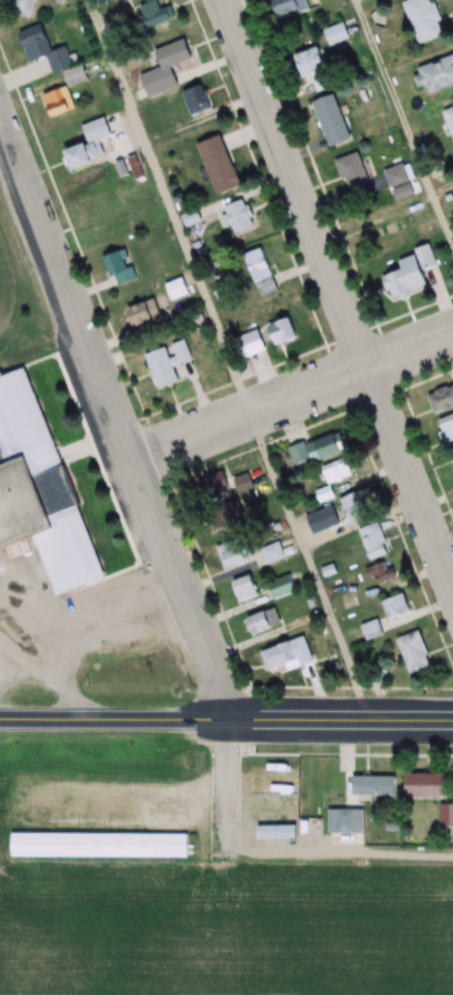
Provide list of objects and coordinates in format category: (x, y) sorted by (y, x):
building: (23, 6)
building: (291, 7)
building: (155, 14)
building: (425, 20)
building: (337, 33)
building: (52, 55)
building: (166, 68)
building: (316, 70)
building: (435, 77)
building: (195, 100)
building: (59, 102)
building: (450, 118)
building: (332, 121)
road: (402, 126)
building: (90, 144)
building: (219, 164)
building: (352, 171)
building: (399, 175)
building: (240, 215)
building: (191, 217)
building: (113, 228)
building: (119, 267)
building: (262, 271)
building: (413, 275)
building: (177, 288)
road: (333, 297)
building: (146, 312)
building: (283, 332)
road: (226, 360)
building: (168, 362)
building: (442, 400)
road: (291, 407)
road: (112, 423)
building: (447, 430)
building: (318, 450)
building: (448, 469)
building: (338, 471)
building: (217, 482)
building: (39, 489)
building: (324, 494)
building: (356, 507)
building: (323, 520)
building: (374, 541)
building: (236, 552)
building: (275, 553)
building: (381, 573)
building: (281, 587)
building: (246, 589)
building: (396, 607)
building: (264, 622)
building: (373, 631)
building: (414, 653)
building: (289, 654)
building: (379, 676)
road: (226, 722)
road: (225, 783)
building: (425, 785)
building: (374, 786)
building: (446, 815)
building: (346, 820)
building: (102, 843)

